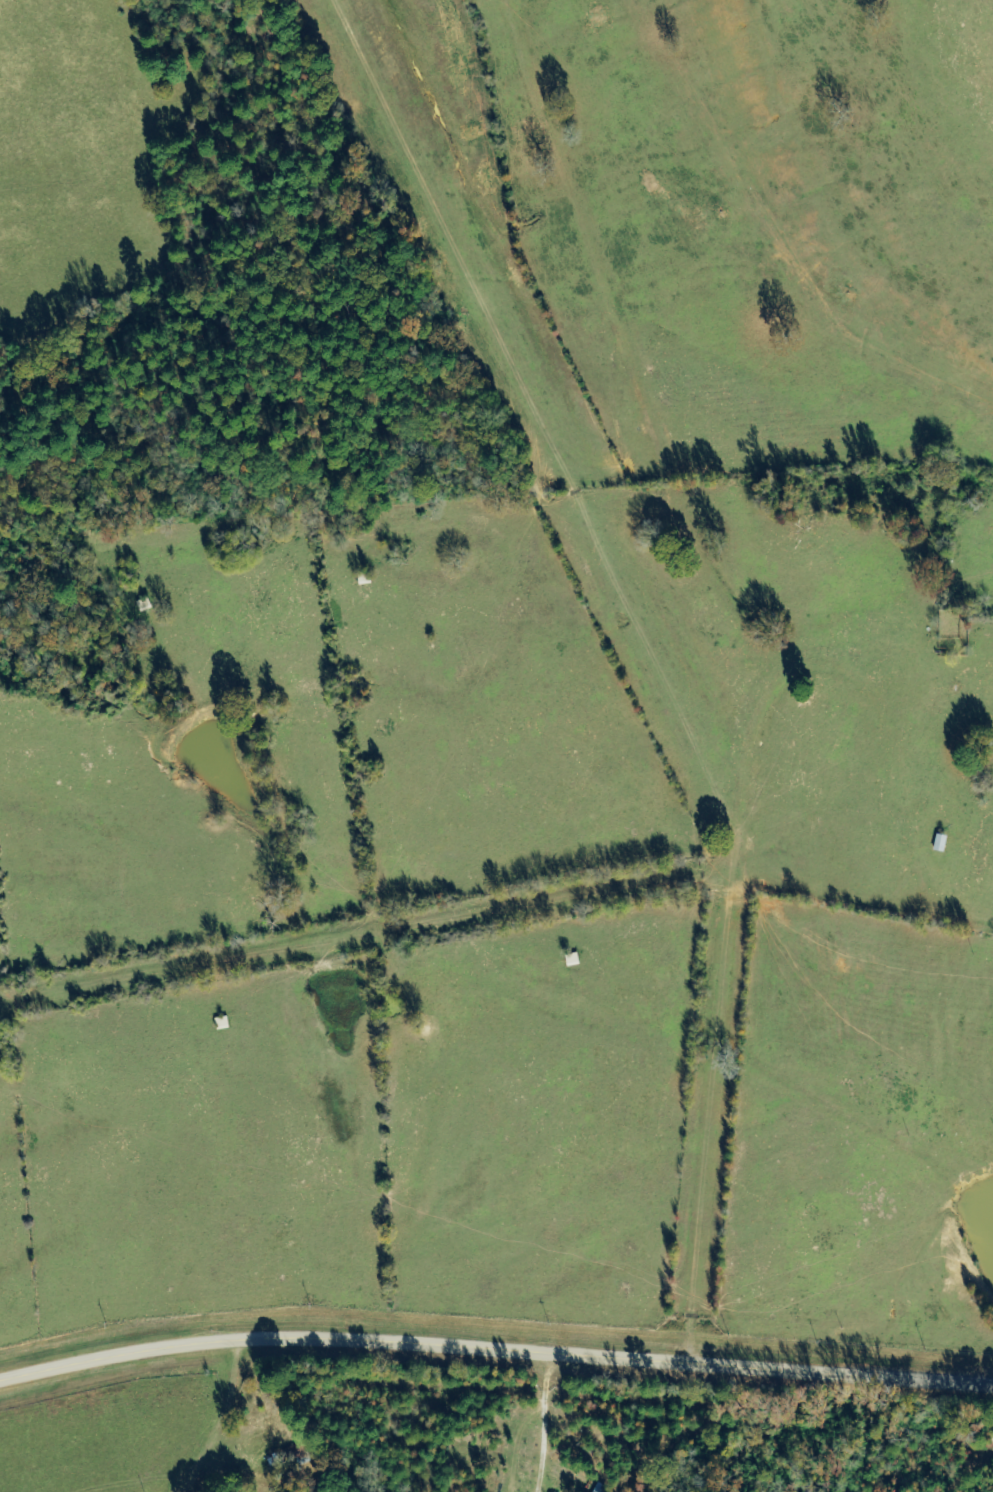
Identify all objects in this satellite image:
road: (495, 1348)

